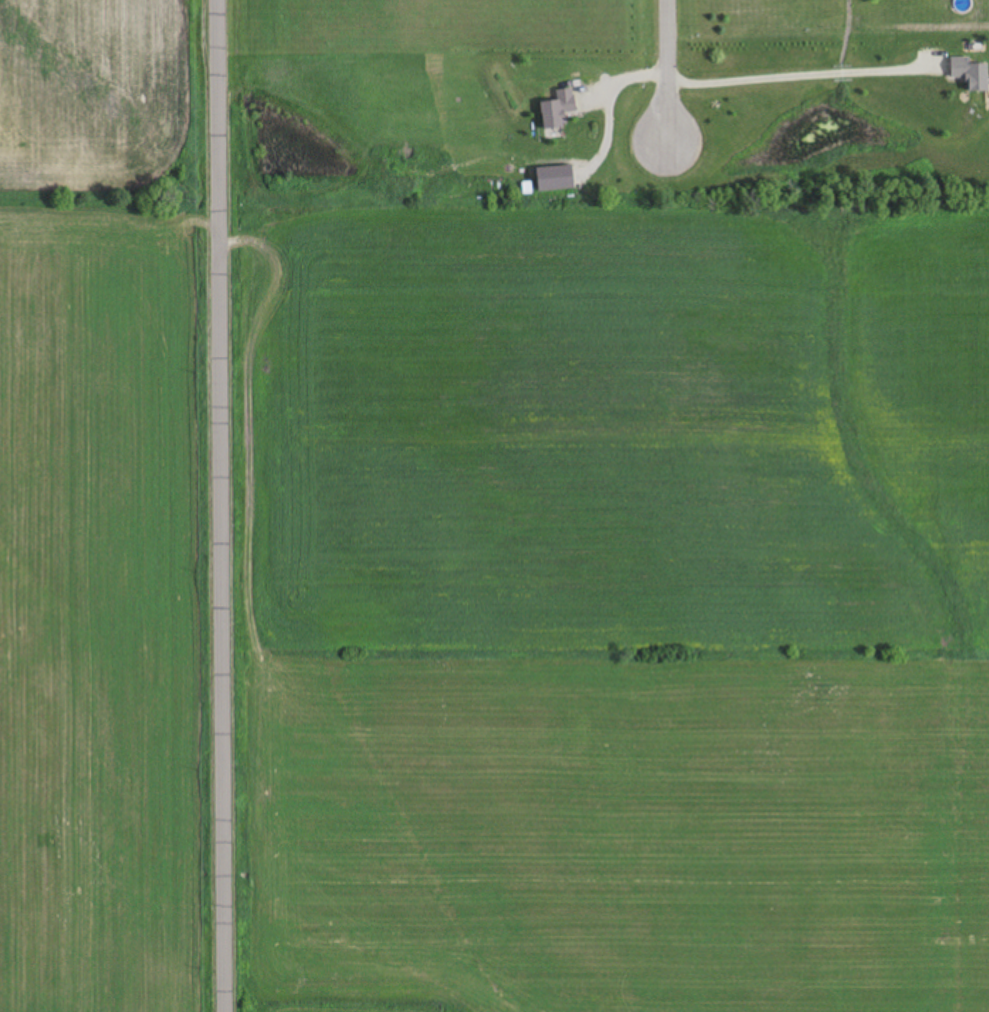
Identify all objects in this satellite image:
road: (667, 70)
building: (971, 74)
building: (558, 110)
road: (215, 506)
crop: (105, 510)

